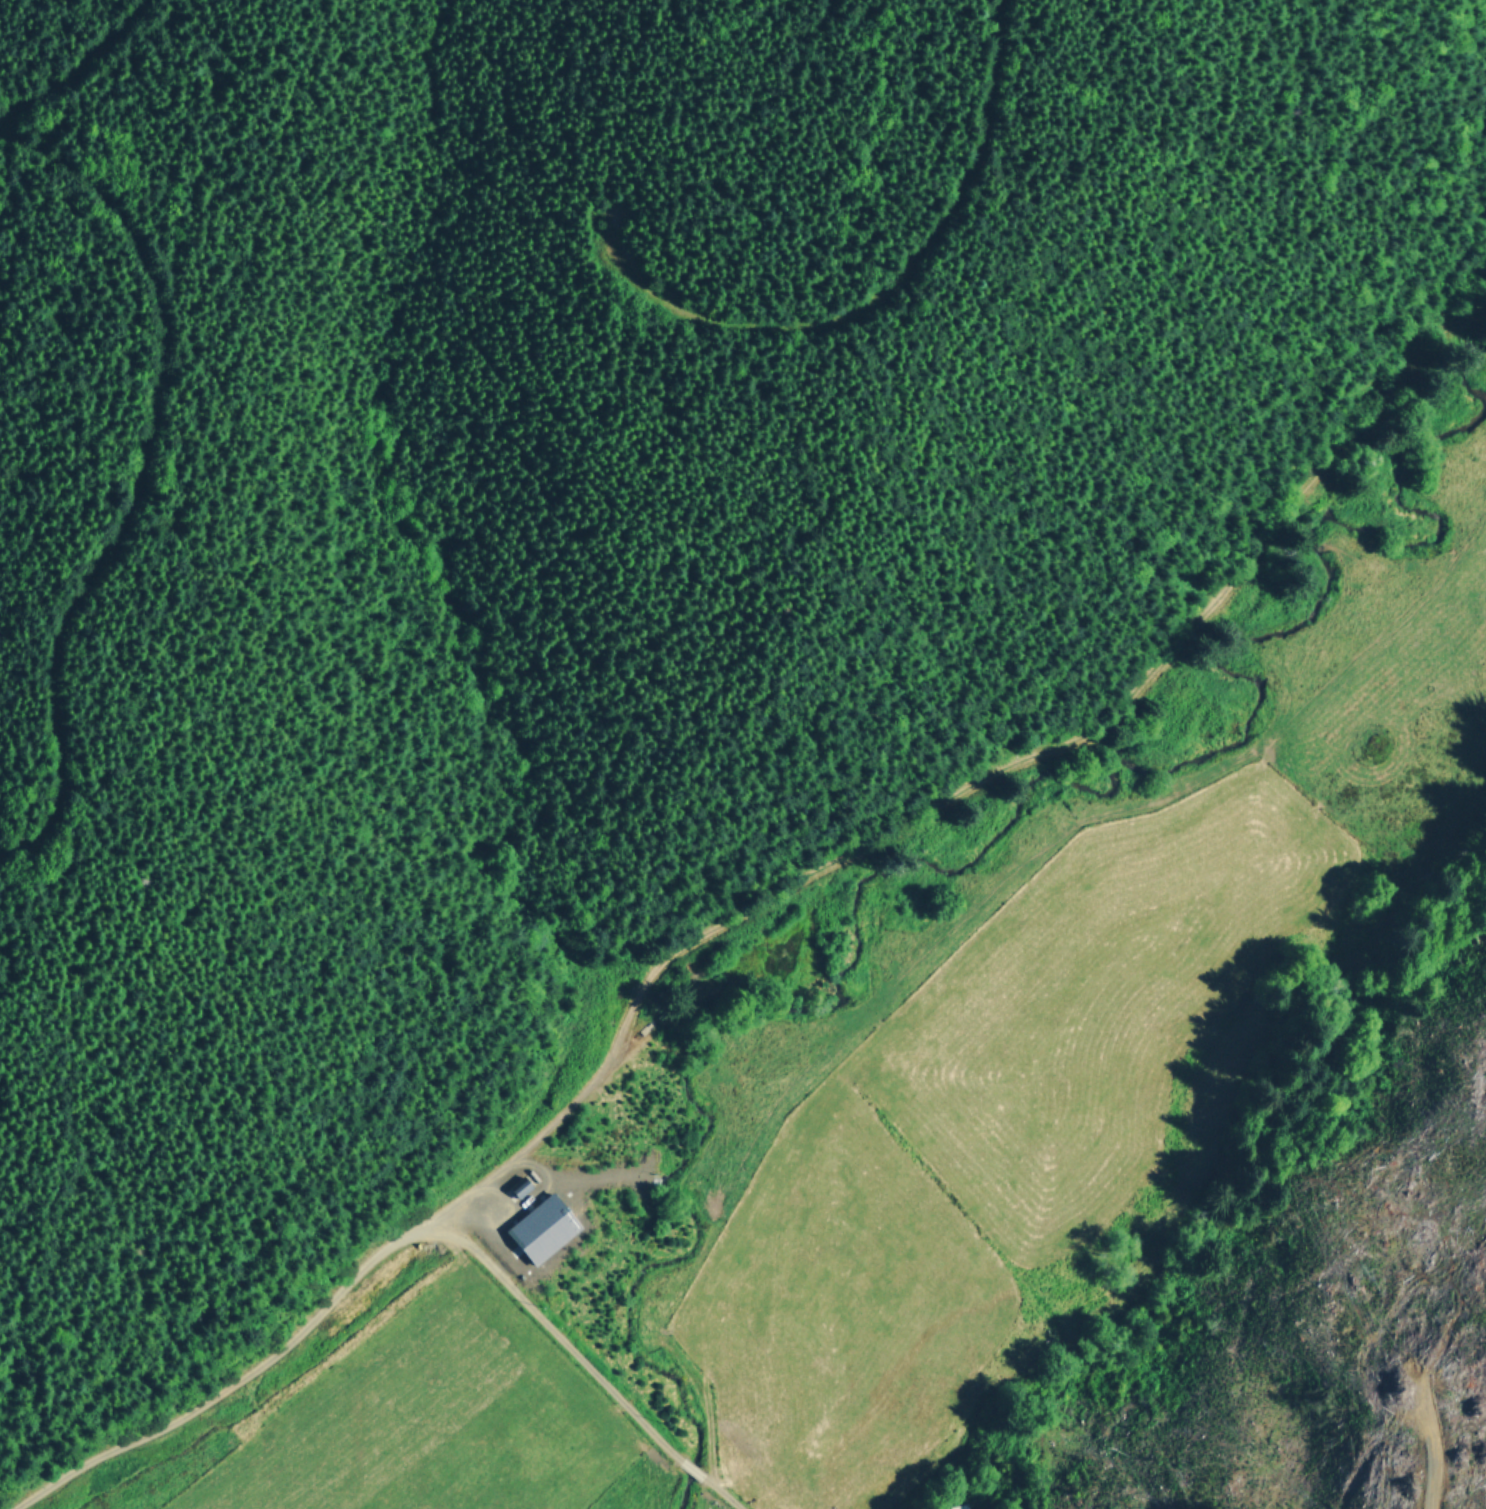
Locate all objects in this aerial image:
road: (92, 47)
road: (945, 191)
road: (165, 486)
road: (776, 860)
crop: (942, 1058)
building: (520, 1185)
building: (541, 1227)
road: (599, 1366)
building: (957, 1506)

